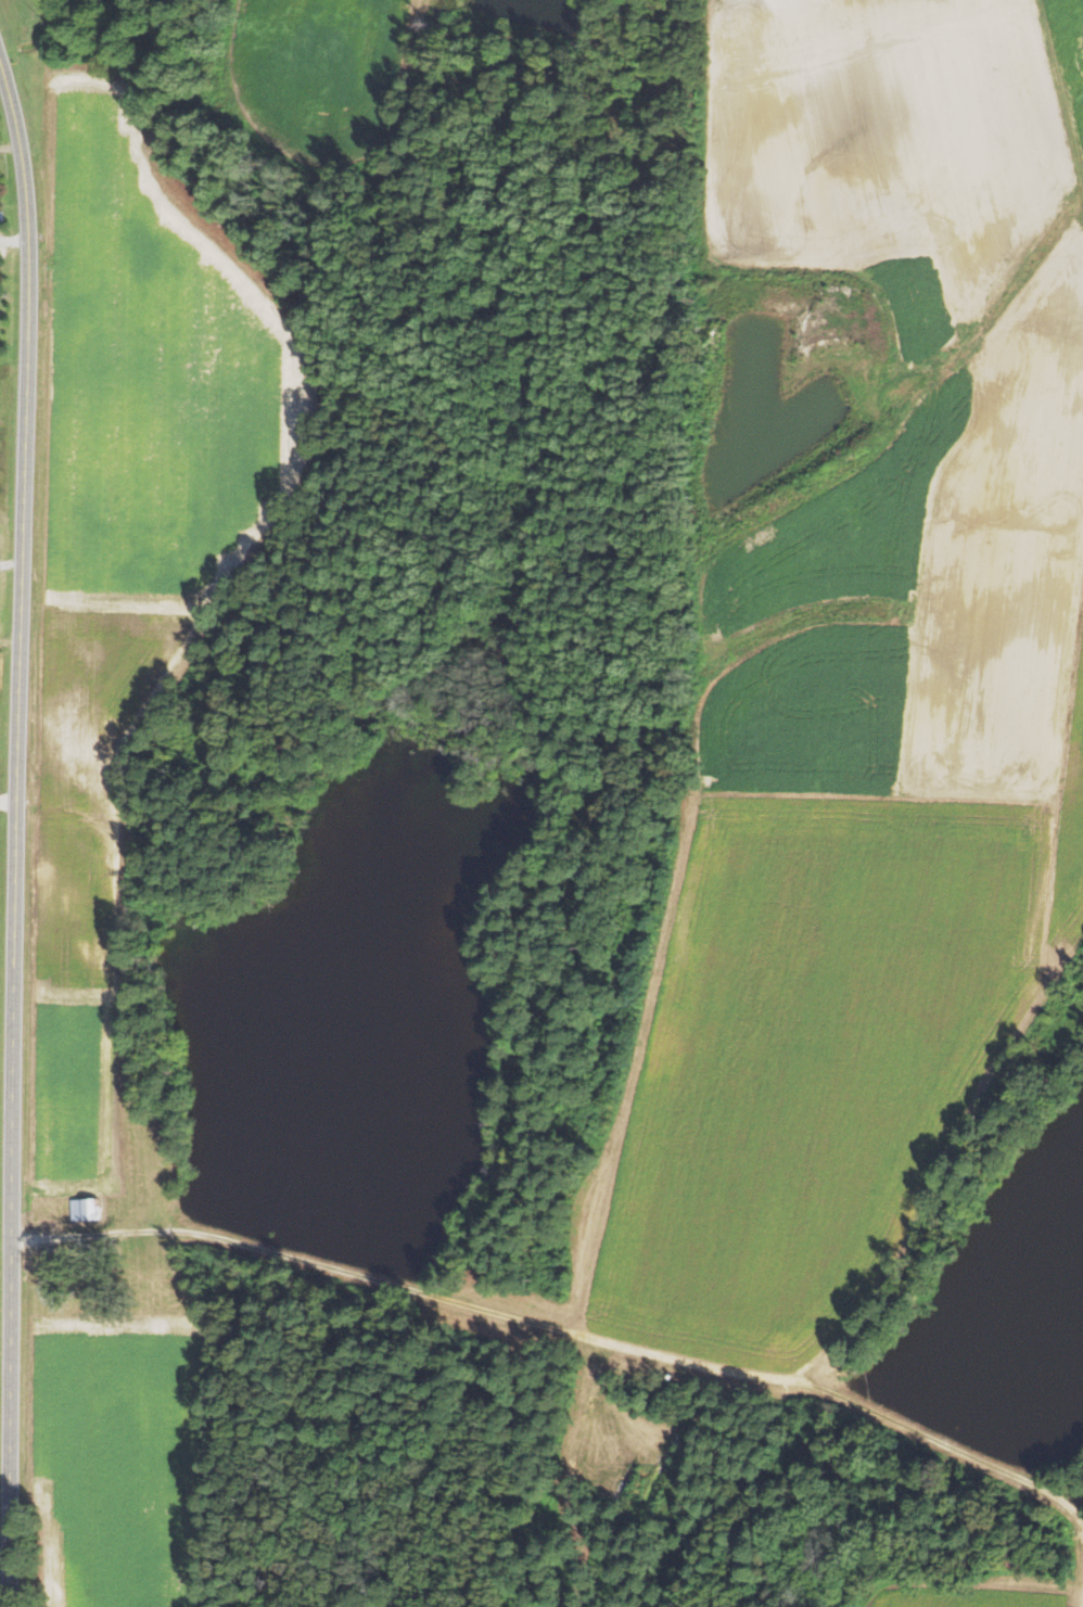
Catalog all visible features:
crop: (1069, 59)
crop: (318, 77)
road: (1057, 99)
road: (10, 146)
road: (14, 240)
road: (11, 564)
crop: (129, 571)
crop: (866, 697)
road: (8, 801)
road: (14, 830)
building: (87, 1208)
road: (51, 1237)
road: (603, 1340)
crop: (125, 1456)
crop: (973, 1594)

